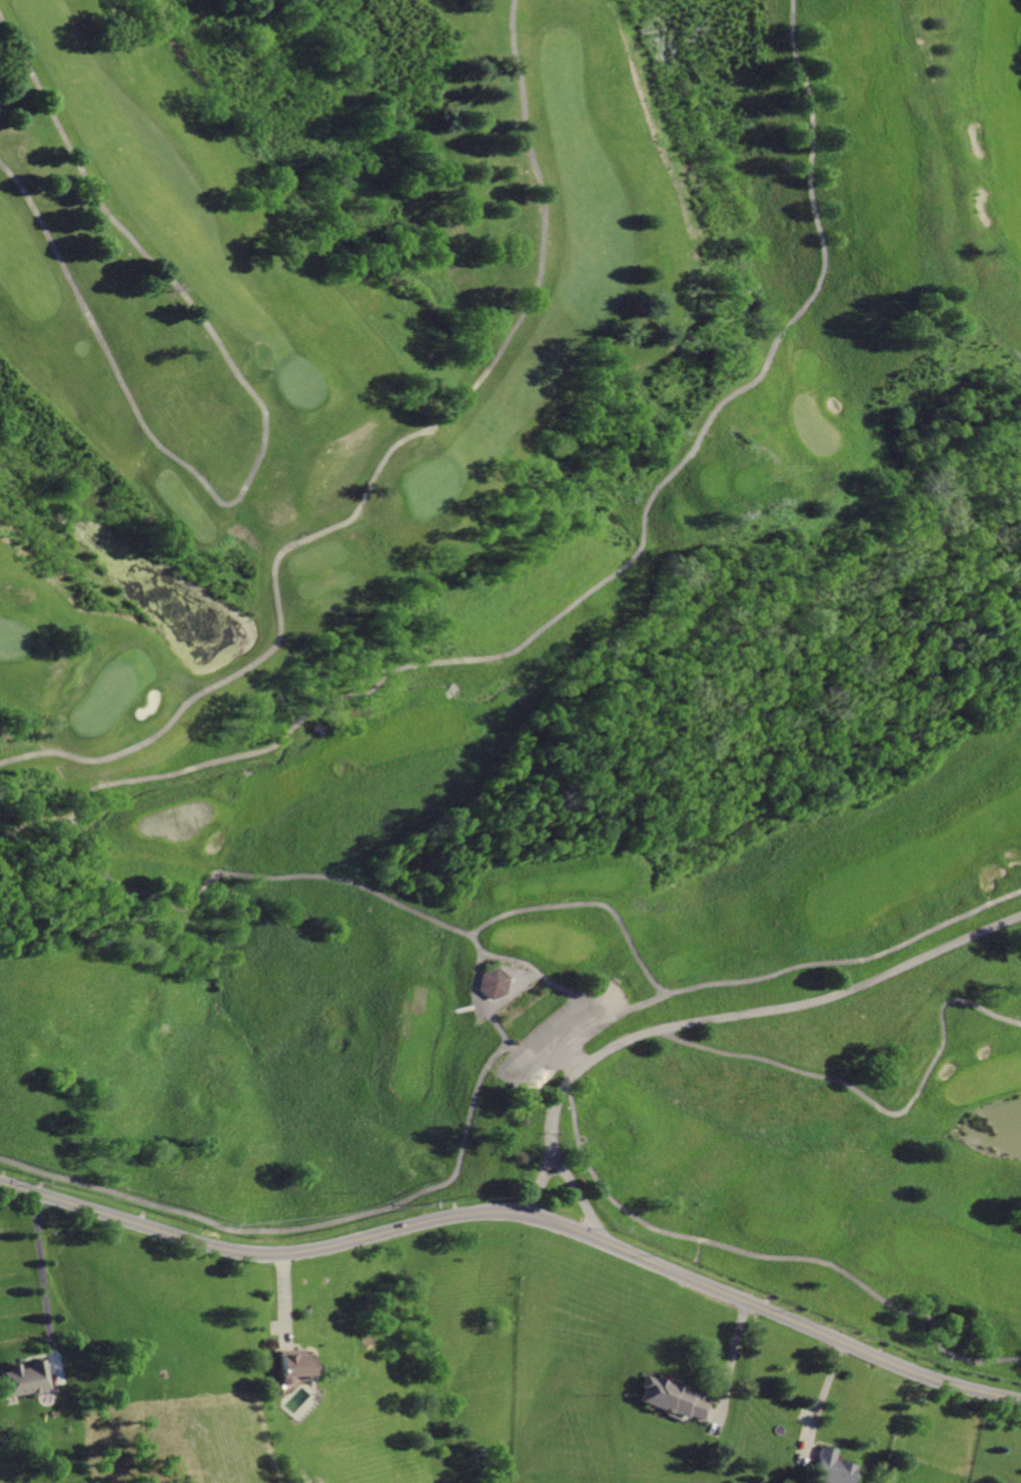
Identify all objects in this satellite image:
park: (298, 381)
road: (262, 438)
road: (377, 470)
park: (432, 486)
park: (522, 635)
road: (379, 689)
park: (105, 699)
road: (587, 904)
road: (947, 920)
road: (749, 978)
building: (495, 984)
road: (480, 1006)
road: (724, 1018)
parking lot: (561, 1036)
road: (575, 1065)
road: (877, 1102)
road: (576, 1195)
road: (520, 1213)
road: (300, 1228)
road: (767, 1257)
road: (46, 1282)
road: (285, 1303)
building: (293, 1366)
road: (729, 1366)
building: (31, 1379)
building: (677, 1399)
road: (820, 1402)
crop: (933, 1434)
crop: (156, 1444)
building: (831, 1467)
building: (314, 1482)

